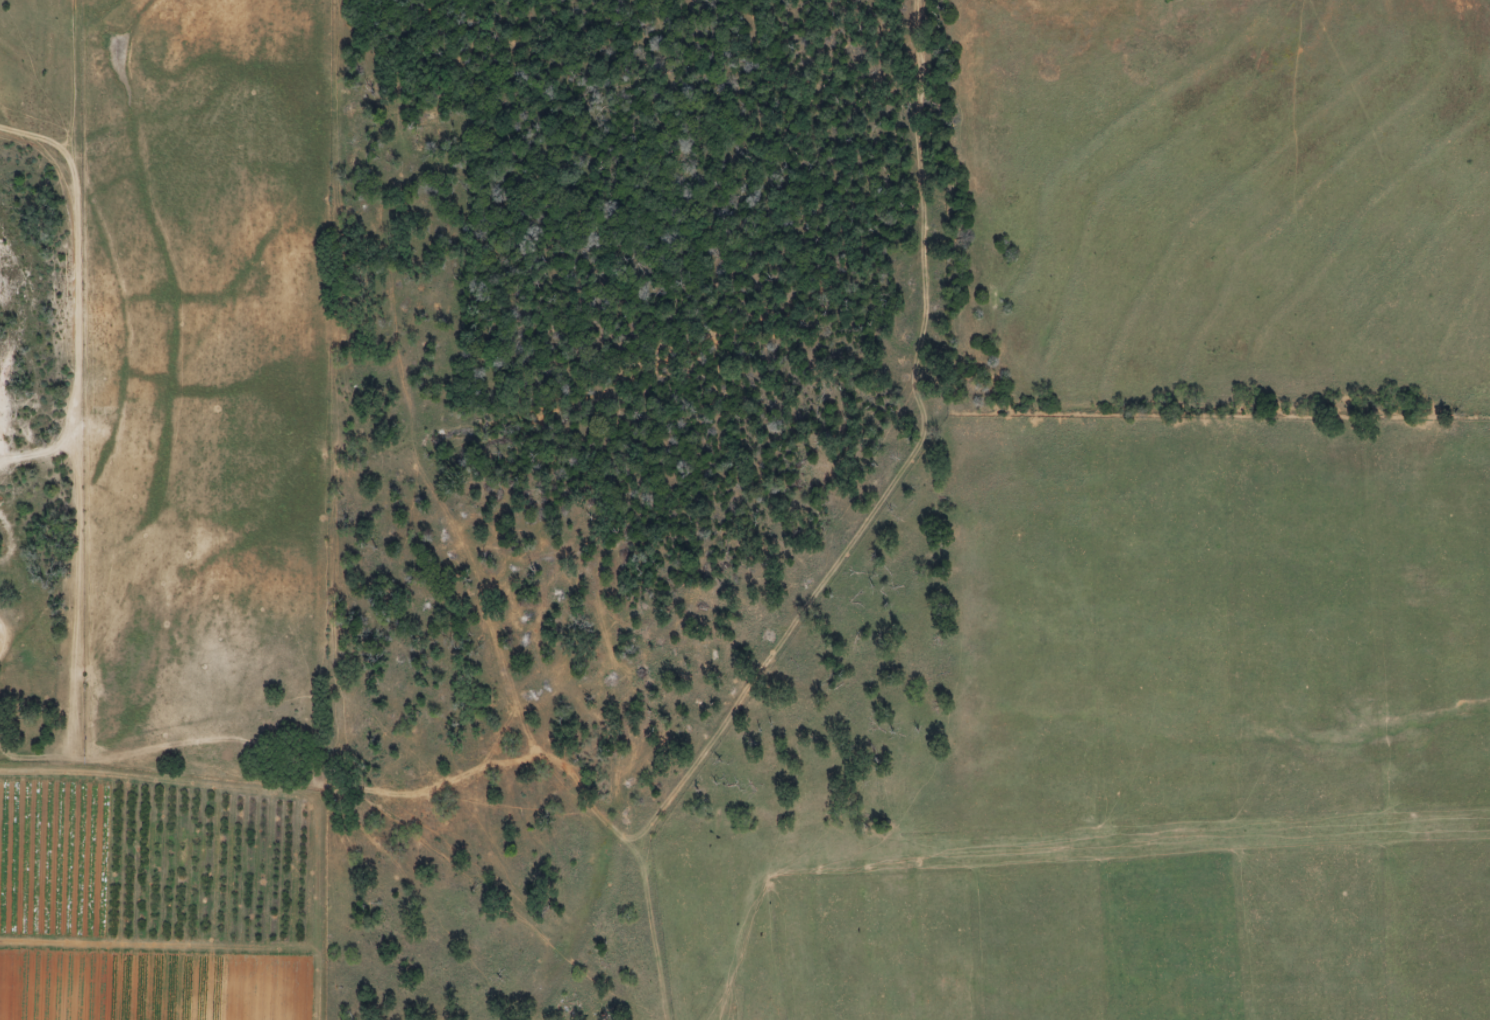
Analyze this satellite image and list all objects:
road: (86, 343)
road: (848, 526)

